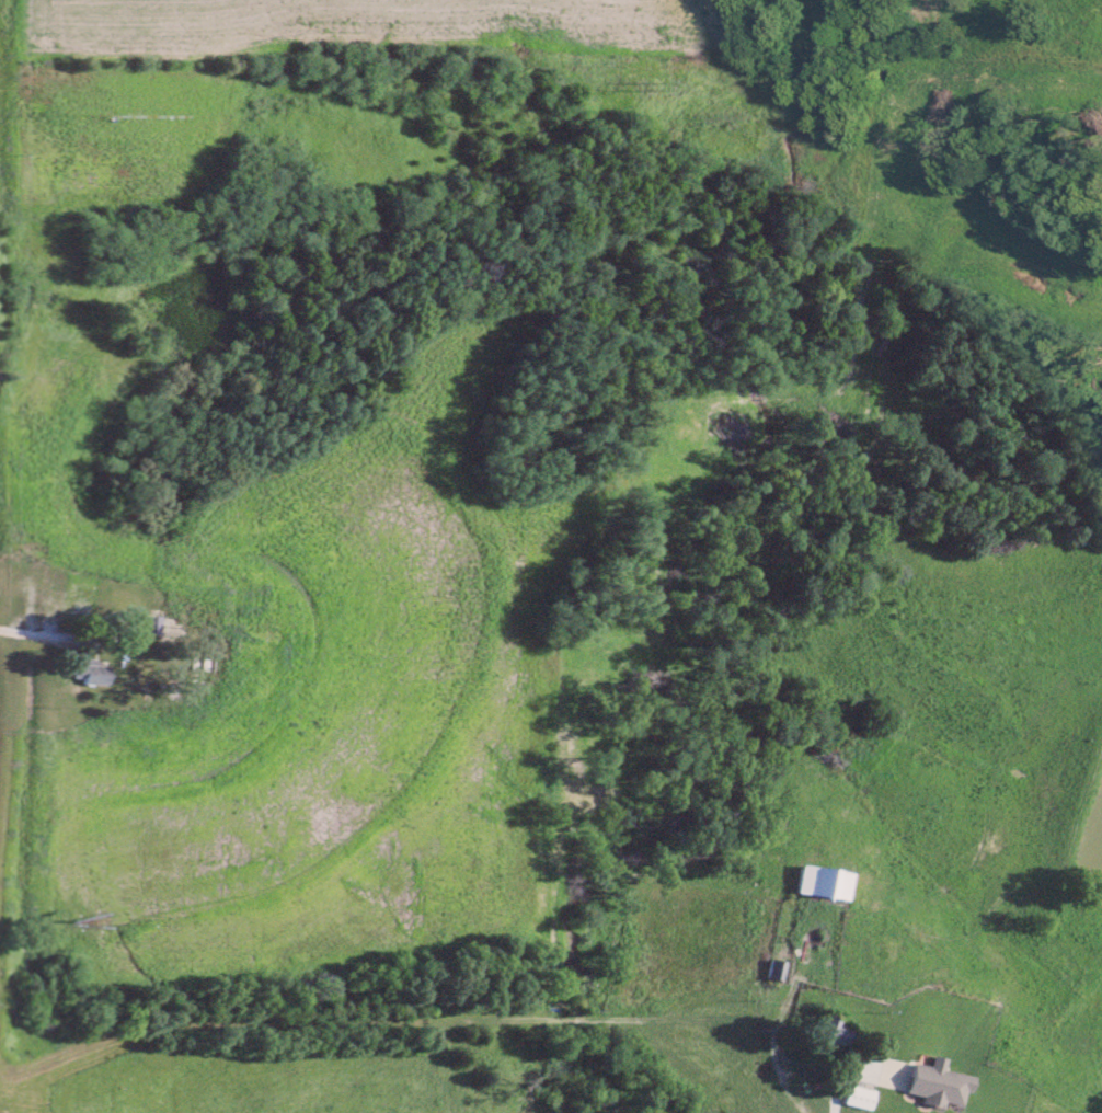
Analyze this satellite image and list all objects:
building: (148, 623)
building: (89, 673)
building: (823, 882)
building: (830, 1030)
building: (938, 1082)
building: (858, 1095)

